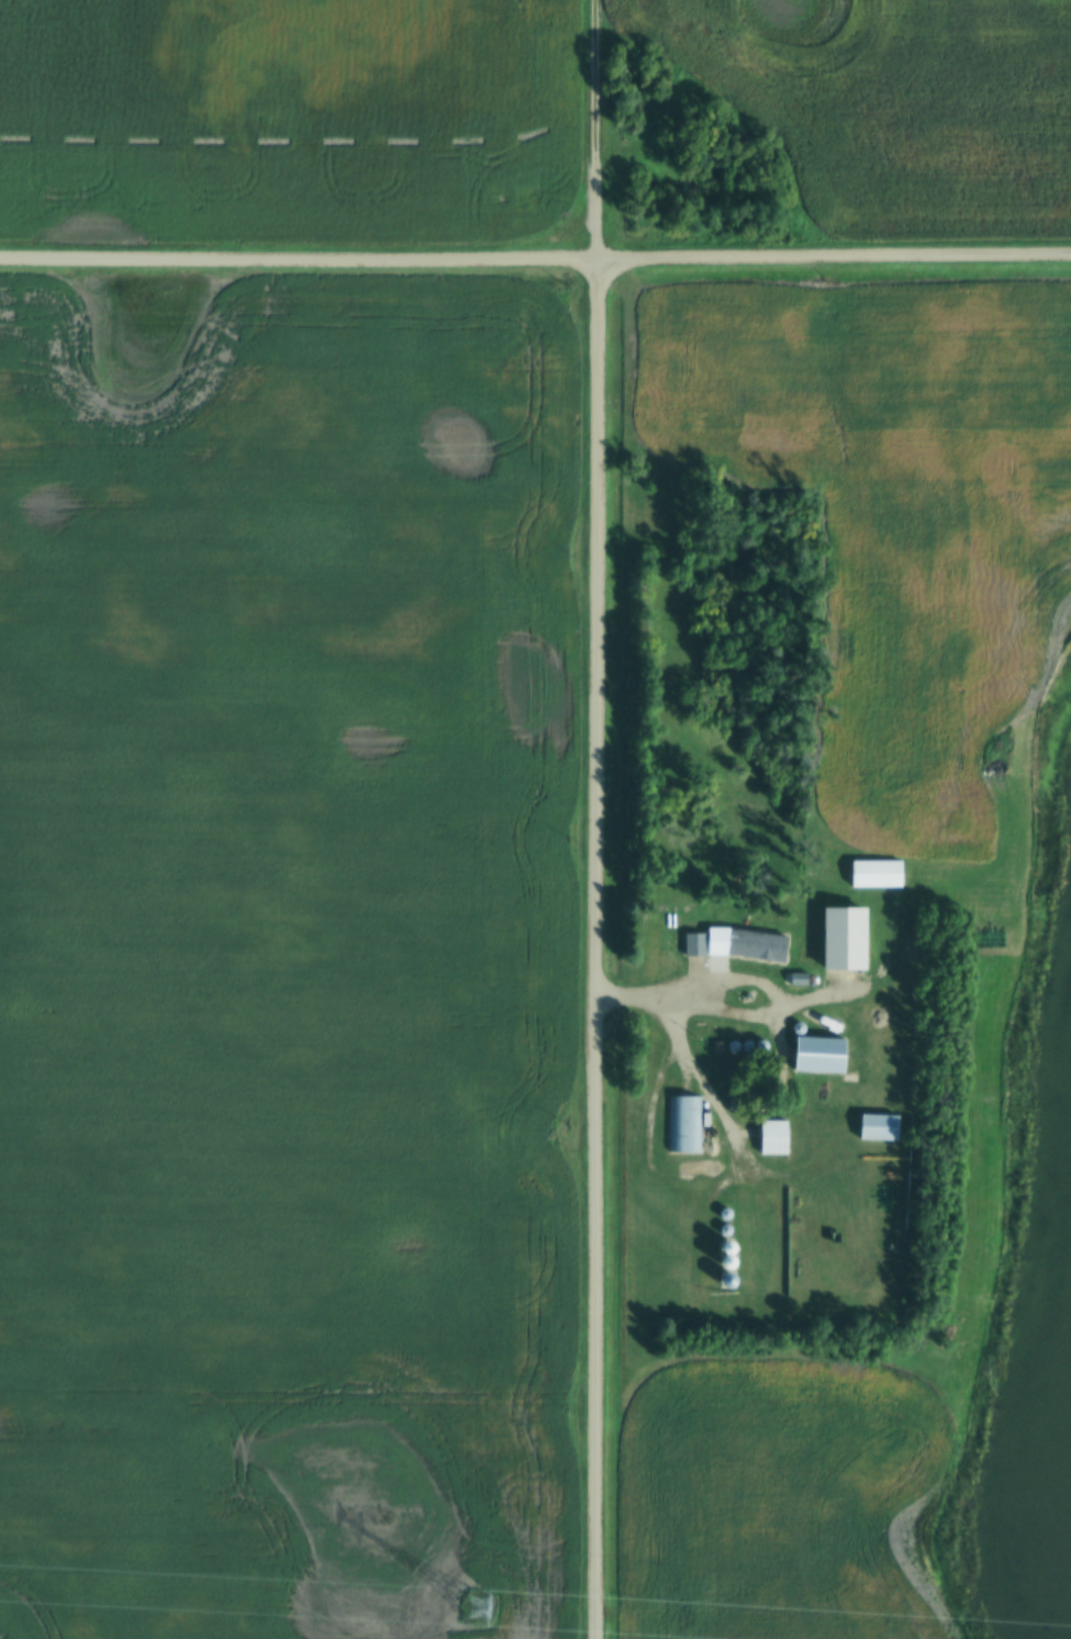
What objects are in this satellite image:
road: (599, 131)
road: (535, 261)
building: (875, 873)
building: (845, 938)
building: (735, 944)
road: (598, 949)
road: (743, 983)
building: (819, 1056)
building: (682, 1124)
building: (879, 1127)
road: (725, 1131)
building: (773, 1137)
power tower: (473, 1607)

